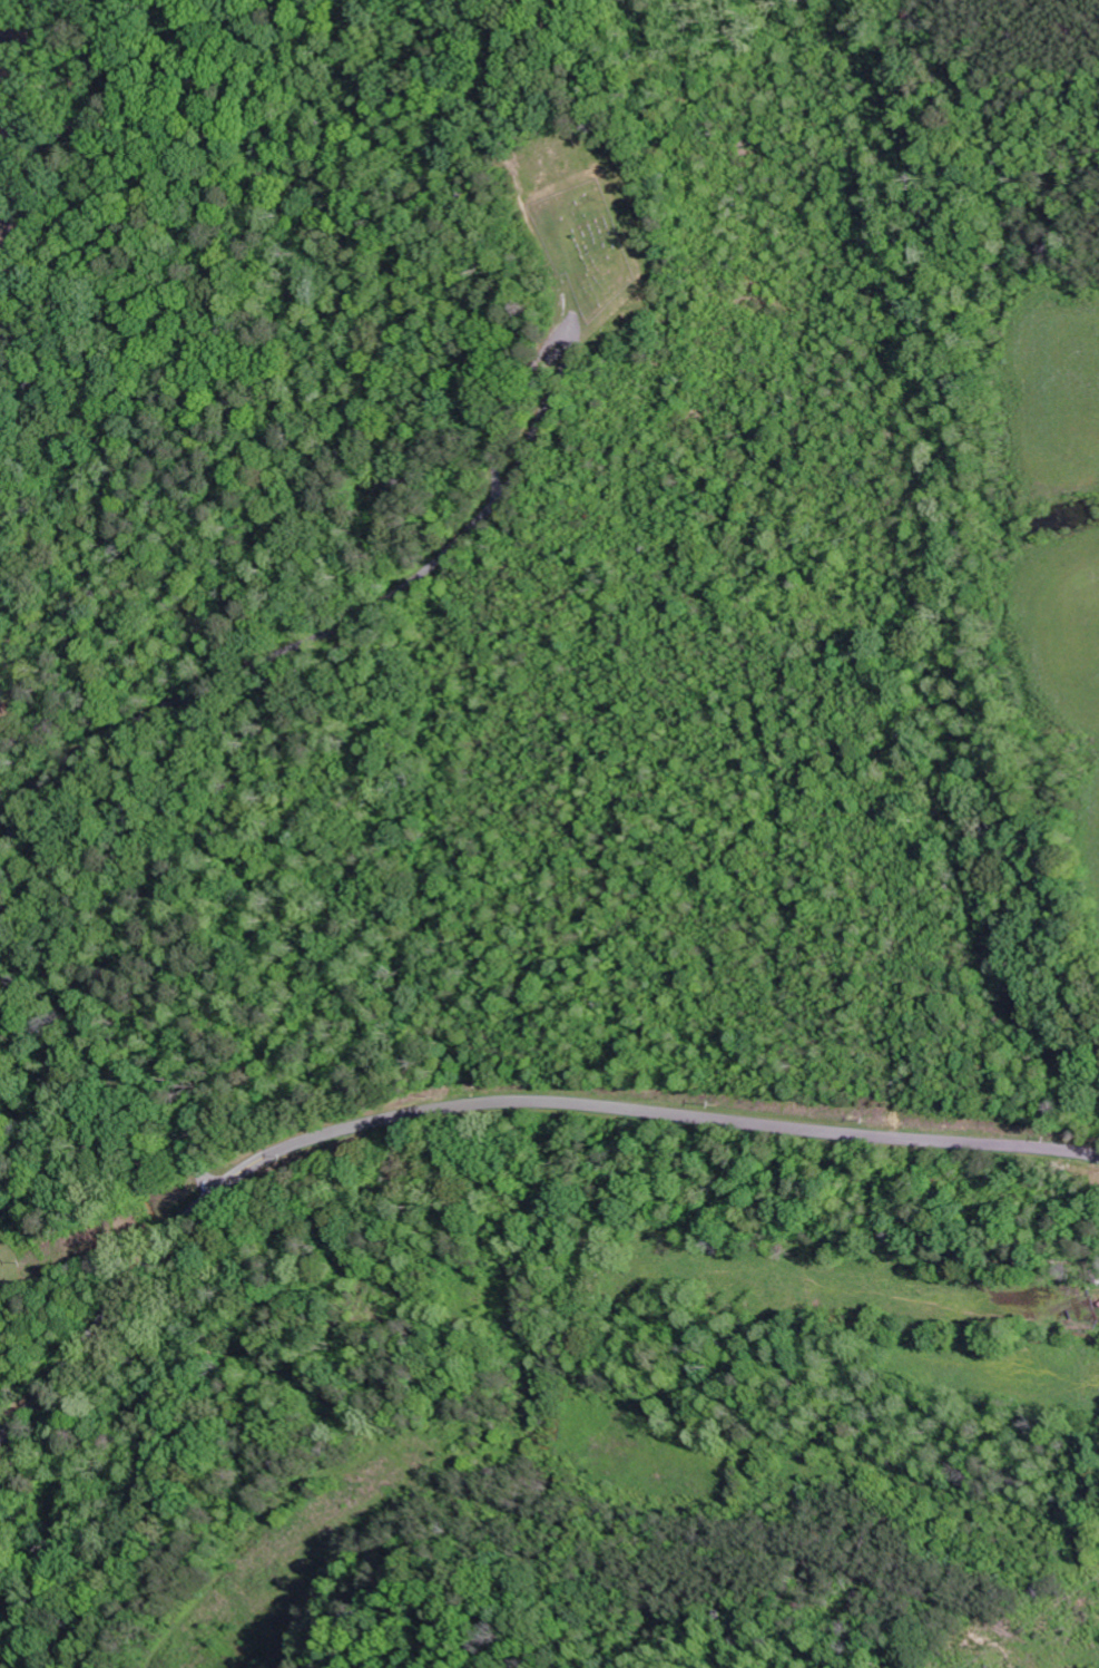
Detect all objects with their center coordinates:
road: (116, 722)
road: (649, 1108)
road: (110, 1314)

